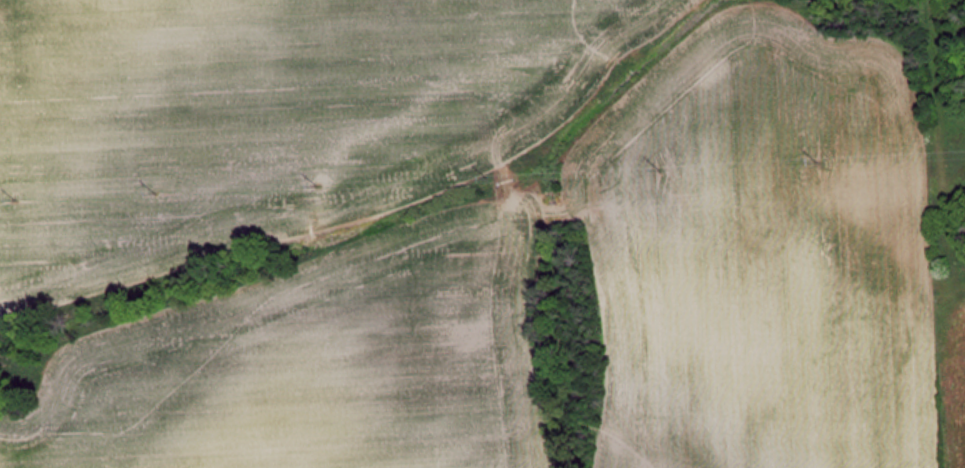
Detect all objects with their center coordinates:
road: (940, 112)

